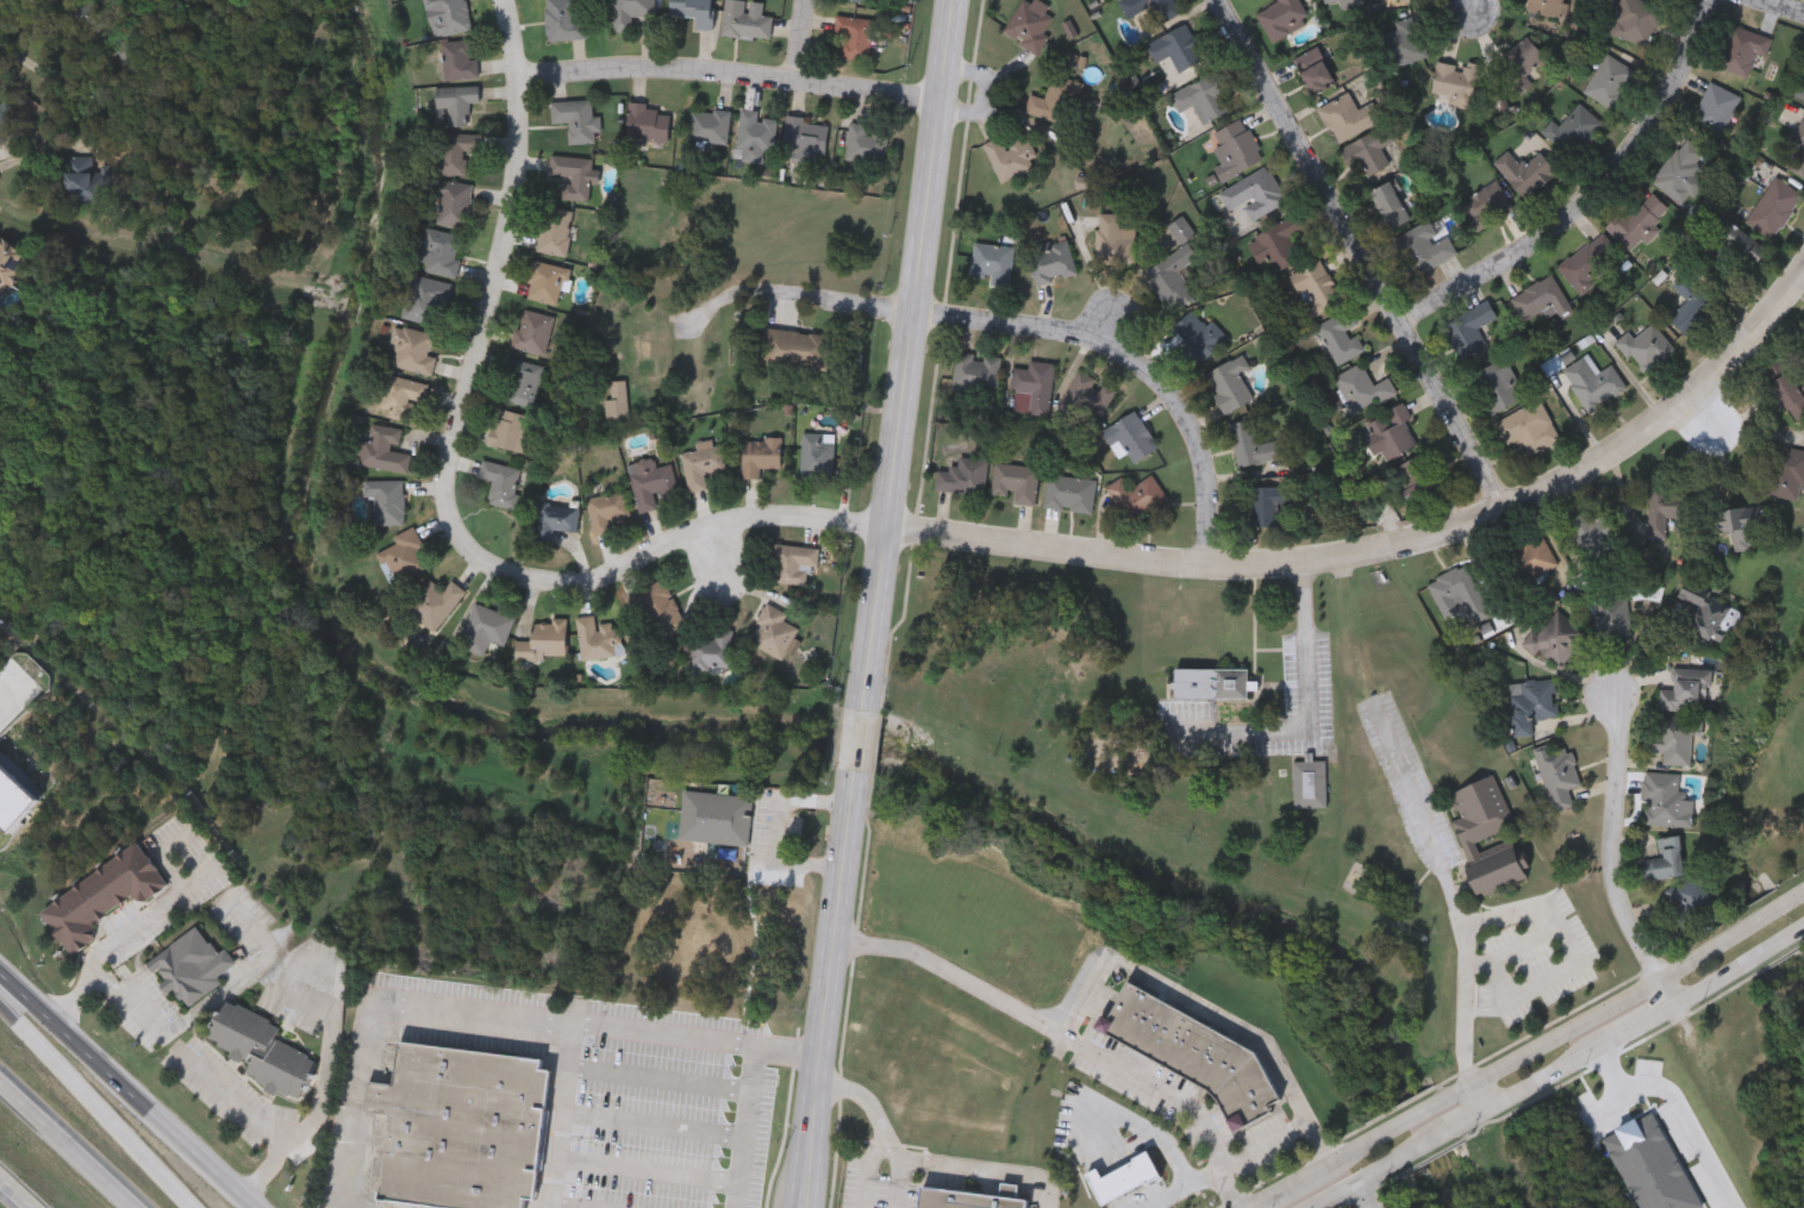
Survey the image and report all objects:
building: (1422, 0)
building: (864, 1)
building: (1337, 2)
building: (1548, 6)
road: (1473, 8)
building: (1150, 10)
road: (1773, 10)
building: (694, 11)
building: (630, 12)
building: (448, 15)
building: (747, 18)
building: (1284, 18)
building: (566, 19)
building: (1636, 19)
building: (93, 23)
building: (1030, 24)
building: (855, 35)
road: (800, 42)
building: (1404, 42)
building: (1181, 48)
building: (1742, 49)
building: (458, 57)
building: (1519, 63)
road: (43, 68)
building: (1313, 70)
road: (728, 80)
building: (1610, 80)
building: (1455, 82)
building: (0, 94)
building: (0, 96)
building: (1205, 96)
building: (1056, 99)
building: (456, 100)
building: (1715, 108)
building: (4, 114)
building: (1348, 117)
building: (578, 118)
building: (649, 123)
building: (711, 124)
building: (1574, 129)
building: (756, 134)
building: (806, 137)
building: (867, 142)
building: (1236, 149)
building: (455, 150)
building: (1368, 150)
building: (1796, 152)
building: (1011, 156)
building: (1681, 170)
building: (1525, 171)
building: (574, 174)
building: (85, 183)
building: (1255, 193)
road: (1596, 200)
building: (455, 202)
building: (1390, 205)
building: (1487, 205)
building: (1773, 207)
building: (1638, 219)
building: (555, 230)
building: (1116, 240)
building: (1284, 242)
building: (1424, 248)
building: (441, 251)
building: (1736, 251)
road: (1360, 256)
building: (1051, 261)
building: (10, 262)
building: (993, 262)
building: (1590, 262)
building: (547, 281)
building: (1316, 288)
road: (793, 289)
building: (1541, 298)
building: (425, 299)
building: (1691, 305)
building: (1469, 328)
building: (532, 331)
building: (1197, 334)
building: (1341, 336)
building: (795, 348)
building: (1647, 348)
building: (413, 350)
road: (905, 355)
building: (654, 357)
road: (1137, 361)
building: (978, 371)
building: (523, 382)
building: (1594, 382)
building: (1229, 383)
building: (1499, 384)
building: (1032, 387)
building: (1363, 387)
building: (400, 395)
building: (1789, 395)
building: (617, 400)
building: (1086, 400)
road: (1710, 414)
building: (1529, 426)
building: (513, 431)
building: (1393, 431)
building: (1130, 437)
building: (1250, 444)
building: (381, 447)
building: (818, 453)
building: (760, 455)
building: (701, 462)
building: (1785, 471)
building: (962, 474)
building: (1419, 478)
building: (650, 481)
building: (1016, 481)
building: (503, 482)
road: (448, 490)
building: (1069, 493)
building: (1136, 495)
building: (386, 500)
building: (1665, 506)
building: (606, 508)
building: (1266, 511)
building: (555, 518)
building: (1736, 524)
building: (1593, 531)
road: (1388, 551)
building: (404, 555)
building: (1533, 557)
building: (793, 561)
building: (1457, 593)
building: (657, 600)
building: (432, 602)
building: (1705, 608)
building: (1612, 616)
building: (486, 628)
building: (774, 632)
building: (598, 638)
building: (1559, 638)
building: (543, 640)
building: (713, 651)
building: (1212, 686)
road: (10, 689)
building: (1684, 689)
building: (1533, 703)
road: (1310, 708)
park: (1765, 731)
building: (1674, 738)
road: (860, 741)
building: (1559, 775)
building: (1310, 783)
building: (1665, 799)
building: (716, 816)
road: (775, 828)
building: (1477, 830)
road: (1618, 855)
building: (1666, 857)
road: (1452, 885)
building: (102, 894)
building: (1693, 902)
road: (1571, 944)
road: (105, 946)
building: (192, 965)
road: (1100, 965)
road: (829, 990)
road: (364, 1010)
road: (570, 1020)
road: (173, 1027)
road: (1527, 1046)
building: (262, 1047)
road: (788, 1049)
building: (1193, 1051)
road: (325, 1058)
road: (1555, 1064)
road: (658, 1076)
road: (1482, 1088)
road: (123, 1095)
road: (1174, 1097)
road: (867, 1099)
road: (1677, 1106)
road: (93, 1107)
road: (654, 1122)
road: (1140, 1122)
road: (262, 1123)
road: (745, 1125)
building: (461, 1126)
road: (1265, 1143)
road: (62, 1148)
road: (974, 1164)
road: (648, 1172)
road: (867, 1177)
road: (1180, 1185)
road: (15, 1193)
road: (1365, 1193)
building: (965, 1198)
road: (341, 1206)
road: (557, 1207)

